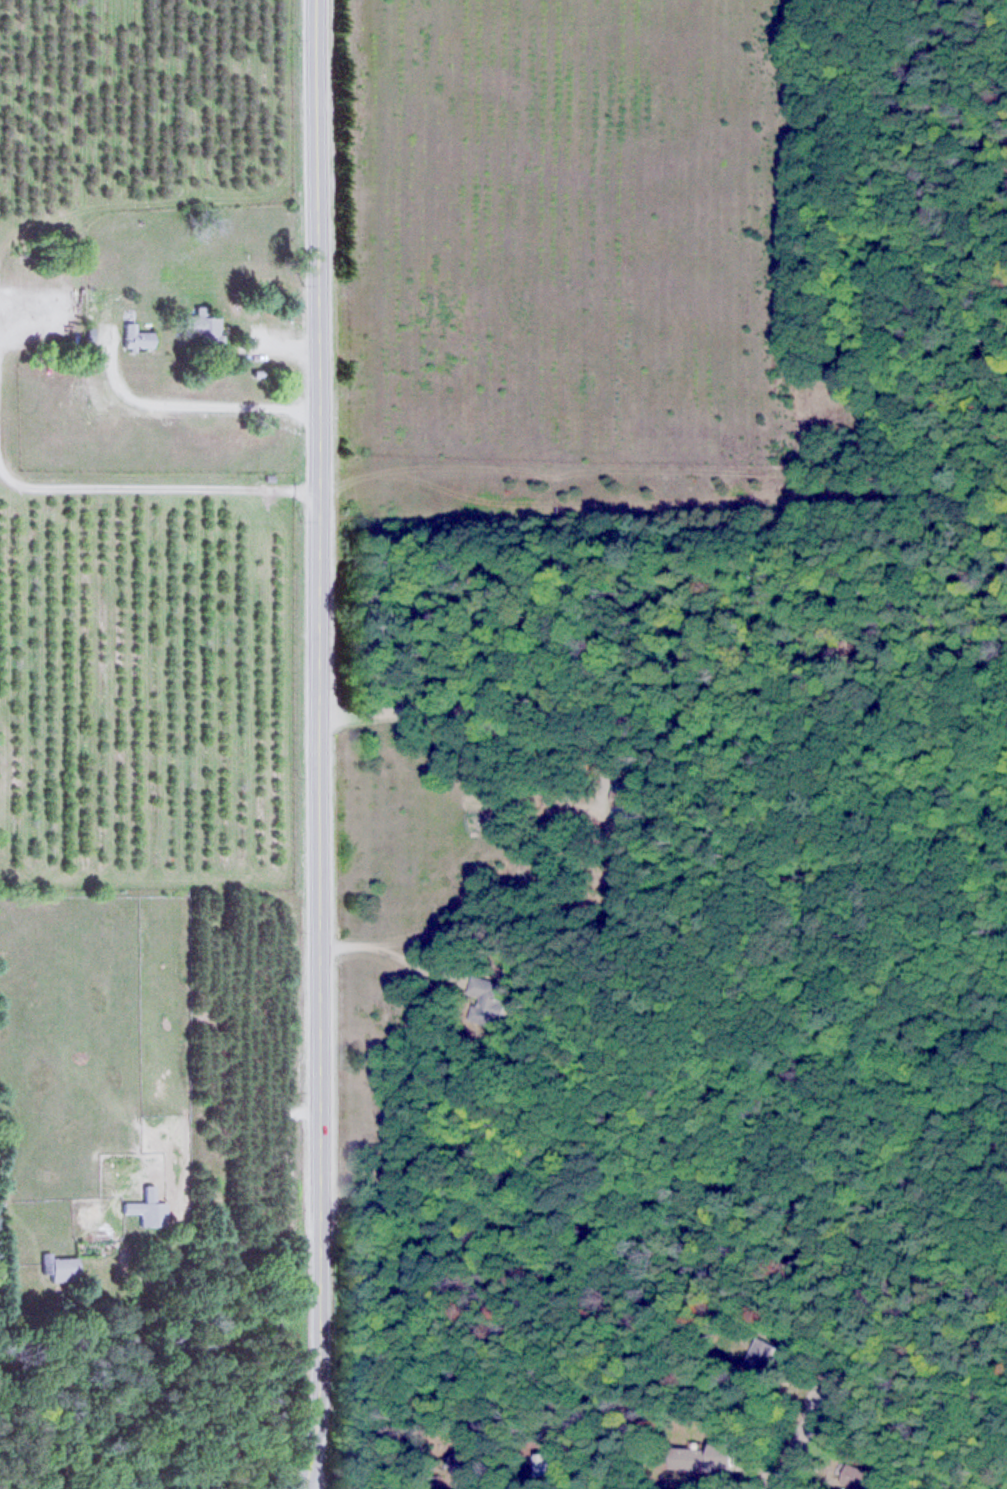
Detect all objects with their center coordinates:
building: (204, 325)
building: (136, 336)
road: (661, 707)
road: (315, 745)
building: (492, 1001)
building: (147, 1206)
building: (61, 1265)
building: (769, 1348)
road: (804, 1436)
building: (730, 1452)

